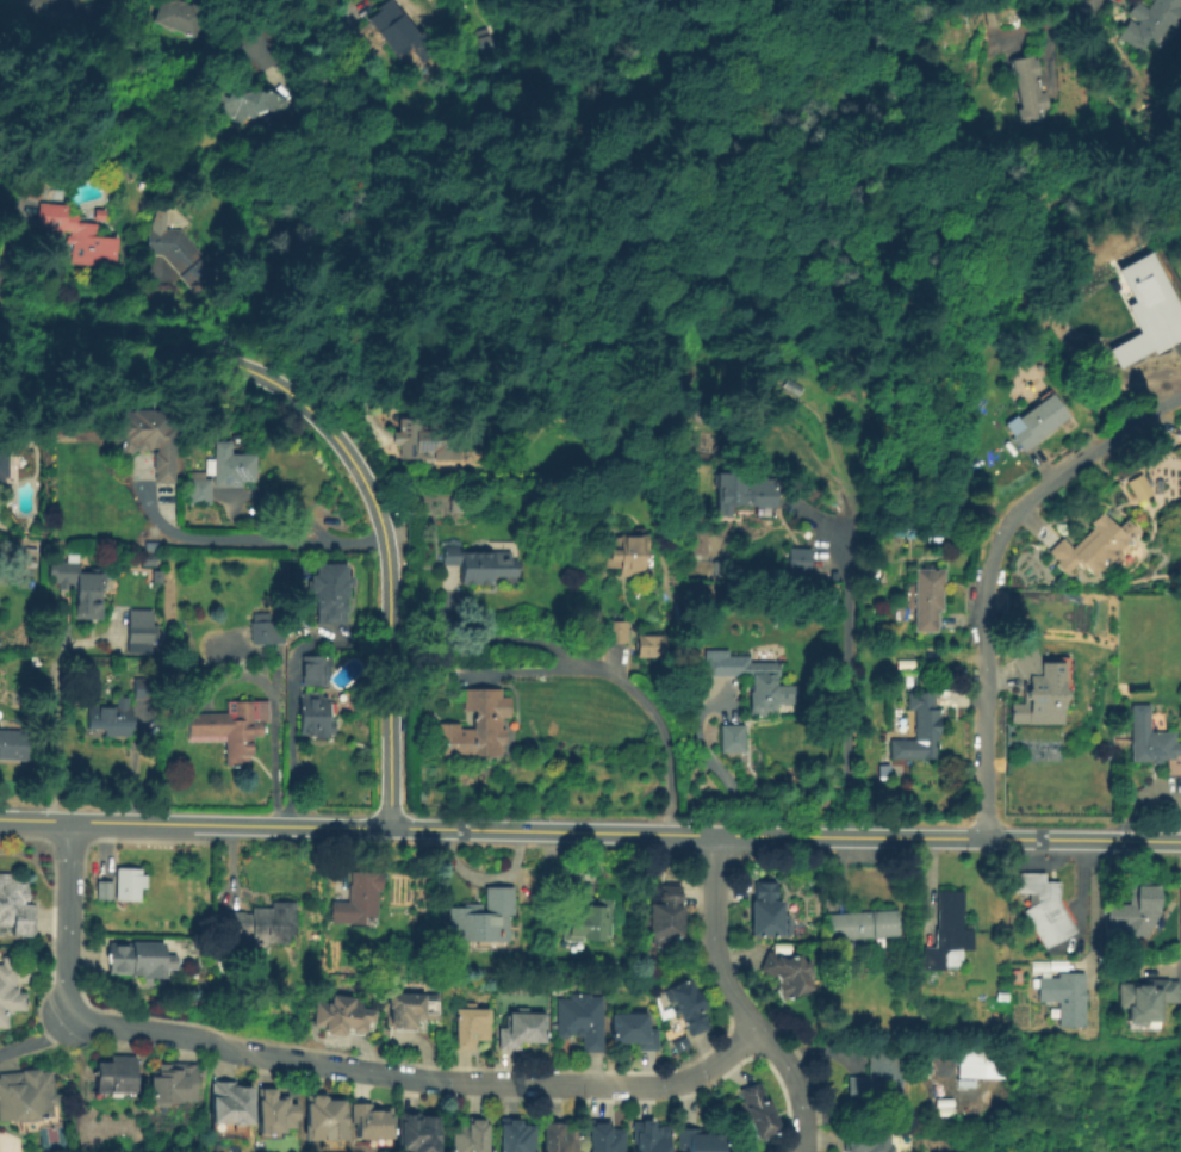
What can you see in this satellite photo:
building: (58, 0)
building: (63, 0)
road: (1083, 7)
road: (272, 12)
building: (182, 14)
building: (1154, 19)
building: (400, 30)
building: (1031, 88)
building: (247, 101)
road: (1135, 111)
building: (30, 181)
building: (79, 235)
building: (180, 253)
road: (691, 277)
building: (1146, 311)
building: (1042, 421)
building: (429, 439)
building: (147, 440)
road: (343, 452)
building: (4, 463)
building: (231, 464)
building: (201, 487)
building: (1137, 487)
building: (744, 490)
building: (458, 504)
road: (262, 539)
building: (701, 544)
building: (1092, 546)
building: (629, 553)
building: (796, 562)
building: (157, 566)
building: (478, 566)
road: (986, 566)
building: (64, 570)
building: (331, 590)
building: (88, 595)
building: (932, 596)
building: (137, 630)
building: (265, 632)
building: (620, 632)
road: (529, 643)
building: (653, 645)
building: (315, 673)
road: (843, 680)
building: (757, 683)
road: (622, 685)
building: (142, 687)
building: (1042, 689)
building: (315, 714)
building: (111, 718)
road: (52, 727)
building: (475, 727)
building: (230, 730)
building: (919, 731)
building: (734, 741)
building: (1149, 742)
building: (12, 744)
road: (286, 755)
road: (269, 756)
road: (709, 761)
road: (1140, 793)
building: (419, 795)
road: (590, 830)
road: (483, 878)
building: (129, 882)
building: (102, 890)
building: (358, 899)
building: (17, 906)
building: (1042, 908)
road: (1092, 910)
building: (765, 911)
building: (1135, 912)
road: (62, 915)
building: (664, 916)
building: (589, 922)
building: (260, 923)
building: (481, 924)
building: (862, 924)
building: (946, 931)
building: (138, 959)
building: (611, 964)
building: (787, 974)
building: (1015, 977)
building: (8, 990)
building: (1001, 996)
building: (1063, 996)
road: (738, 999)
building: (1144, 1002)
building: (408, 1010)
building: (691, 1010)
building: (341, 1018)
building: (582, 1021)
building: (471, 1028)
building: (523, 1030)
building: (634, 1032)
road: (37, 1039)
building: (677, 1045)
building: (980, 1065)
building: (114, 1077)
road: (414, 1077)
building: (877, 1080)
building: (172, 1083)
building: (26, 1098)
building: (229, 1109)
building: (756, 1110)
building: (273, 1111)
building: (323, 1121)
building: (369, 1127)
building: (418, 1134)
building: (470, 1136)
building: (649, 1136)
building: (516, 1138)
building: (559, 1139)
building: (604, 1139)
building: (697, 1141)
building: (866, 1141)

